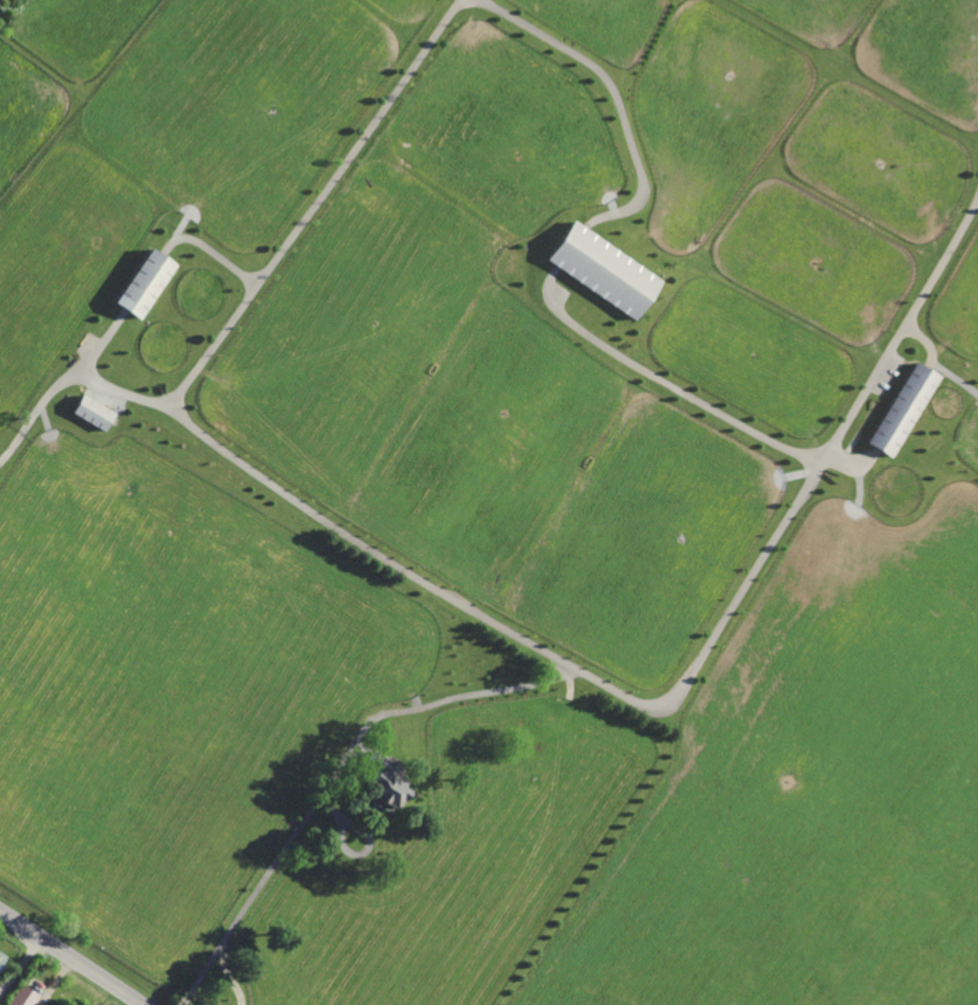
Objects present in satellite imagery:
road: (606, 86)
road: (311, 204)
building: (601, 268)
building: (145, 280)
road: (683, 392)
building: (899, 408)
building: (93, 411)
building: (279, 655)
road: (574, 669)
building: (235, 715)
building: (554, 719)
building: (335, 728)
building: (464, 745)
road: (331, 774)
building: (390, 780)
building: (2, 957)
road: (69, 957)
road: (228, 975)
building: (22, 996)

